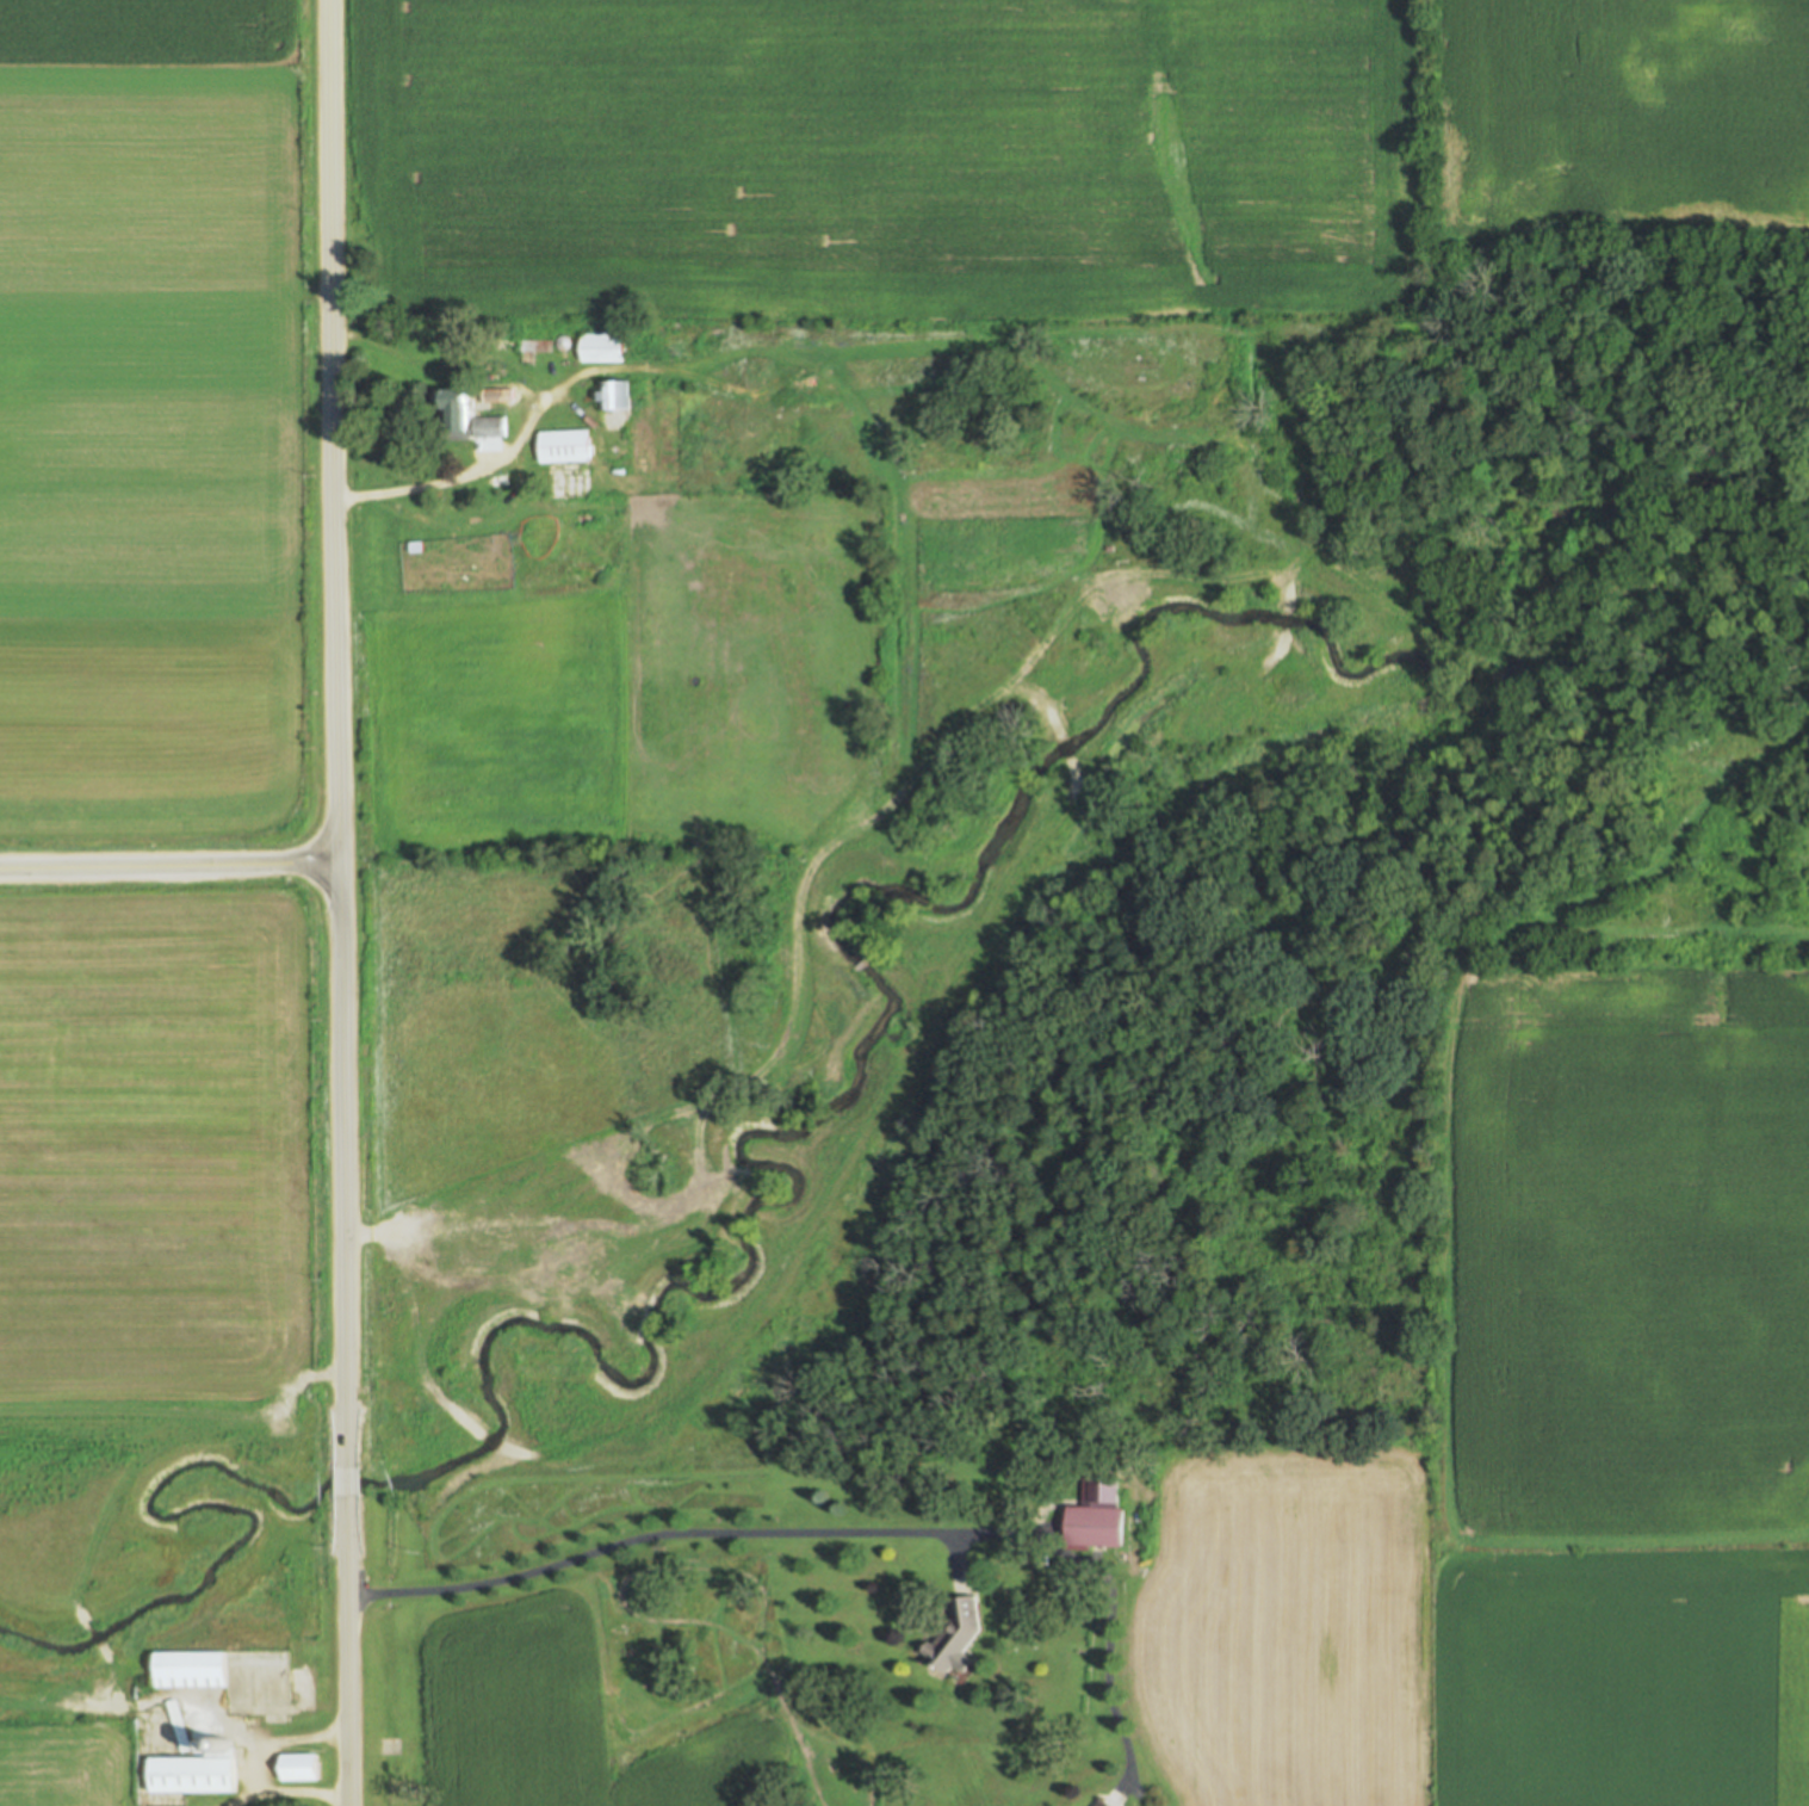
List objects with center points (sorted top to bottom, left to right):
building: (605, 348)
road: (580, 376)
building: (617, 396)
road: (580, 412)
building: (456, 414)
road: (527, 419)
building: (617, 421)
building: (492, 427)
building: (566, 446)
road: (171, 864)
road: (341, 902)
building: (1098, 1509)
road: (840, 1533)
road: (955, 1560)
building: (959, 1634)
building: (192, 1669)
road: (283, 1740)
building: (301, 1768)
building: (193, 1775)
road: (287, 1790)
building: (1104, 1804)

